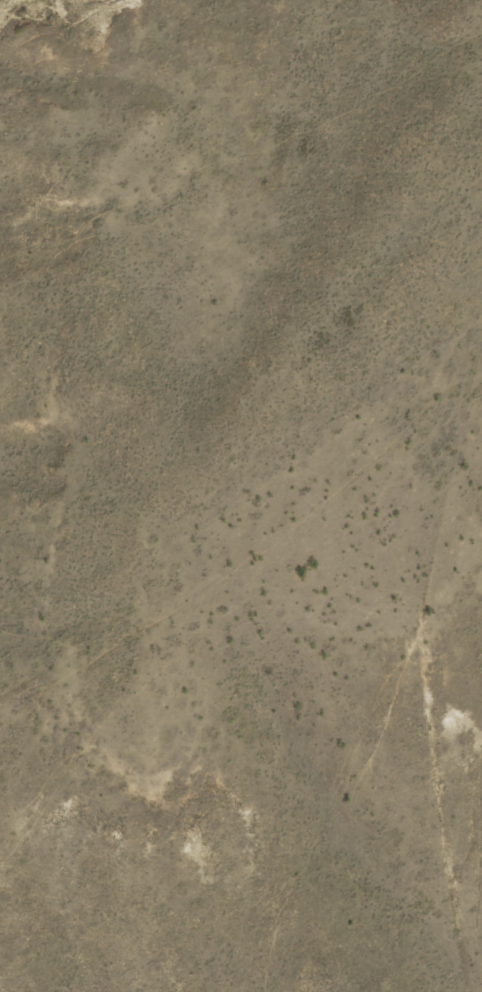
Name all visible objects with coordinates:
road: (481, 307)
road: (421, 761)

